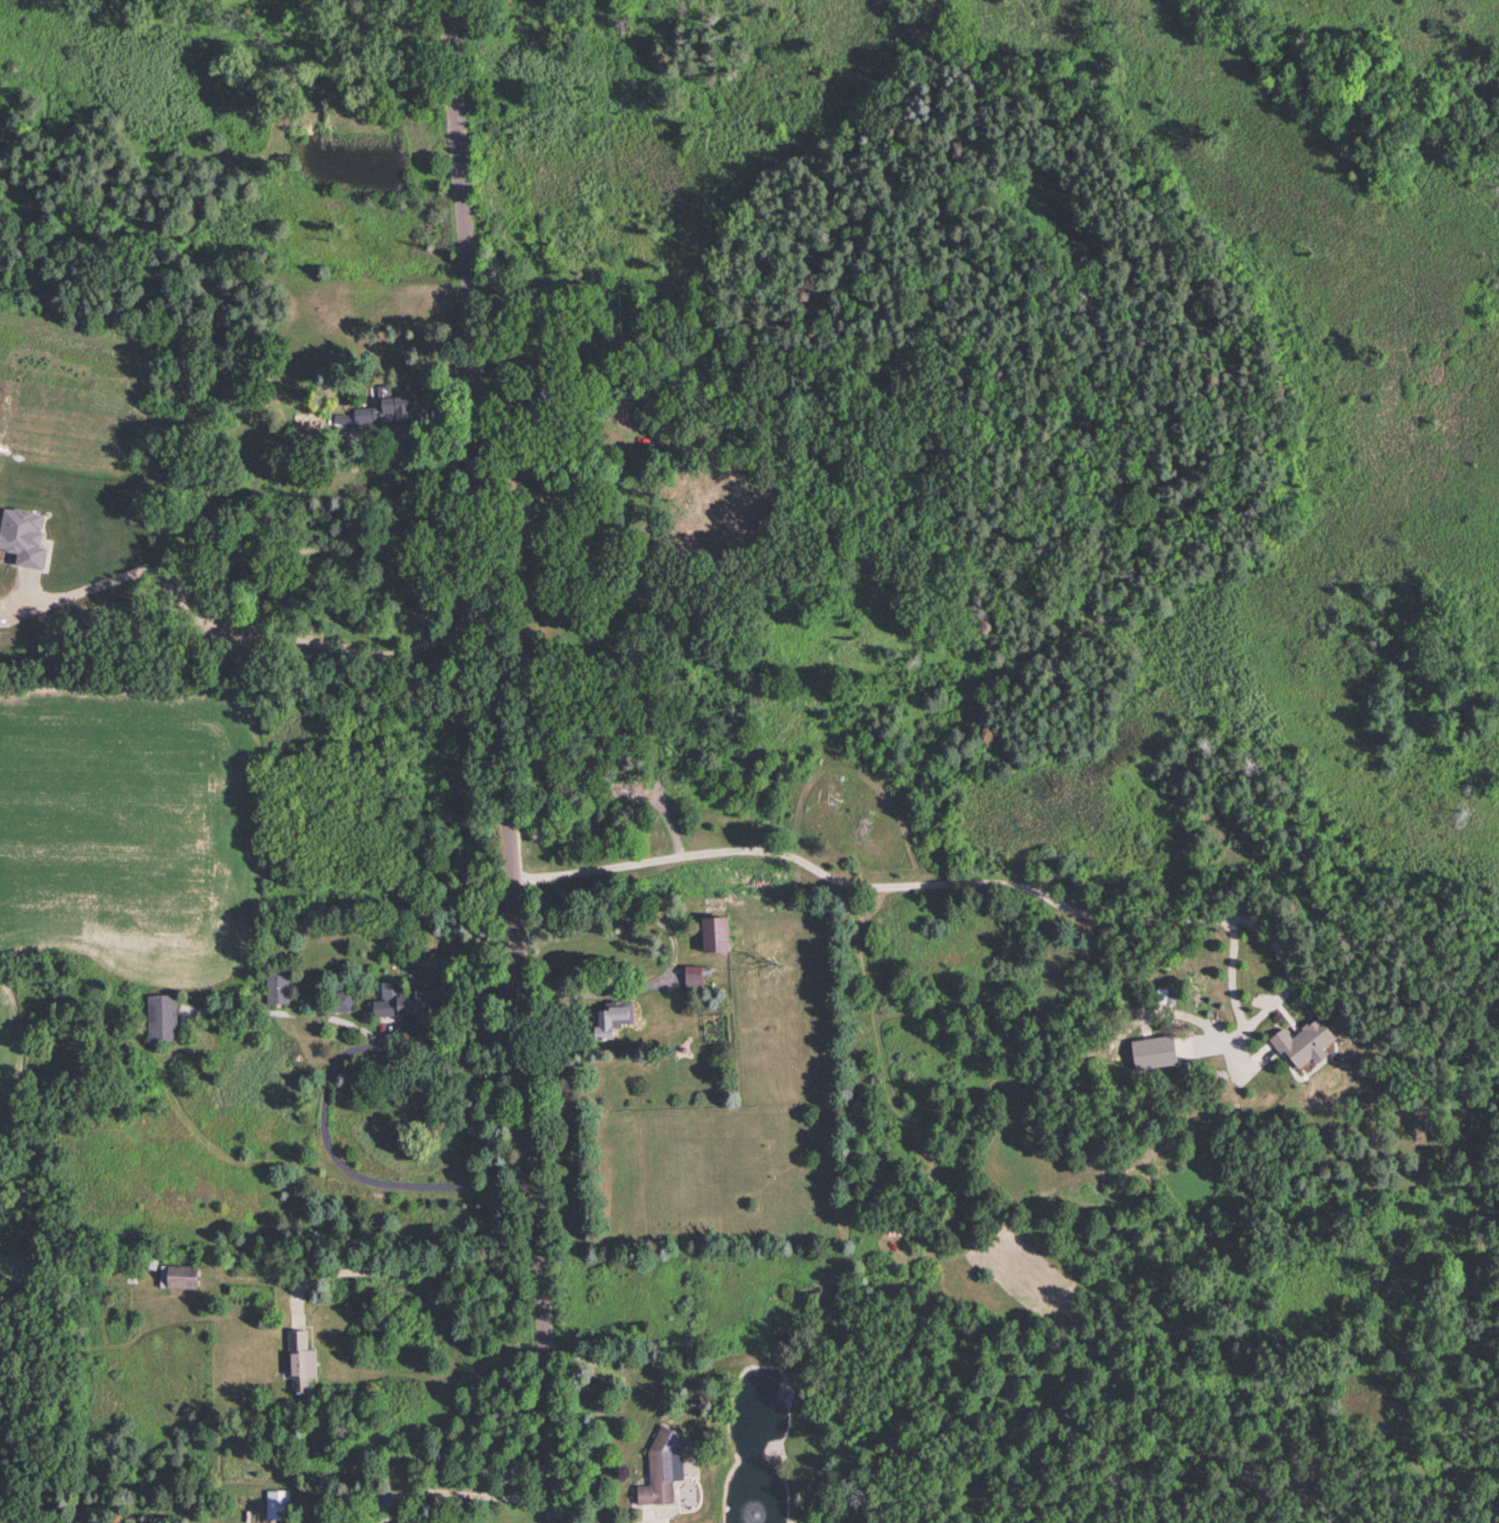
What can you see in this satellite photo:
building: (388, 410)
building: (340, 417)
road: (245, 635)
road: (504, 761)
crop: (129, 828)
road: (922, 881)
building: (715, 932)
road: (672, 949)
building: (694, 974)
building: (276, 986)
building: (342, 1000)
building: (405, 1002)
building: (161, 1016)
building: (613, 1016)
building: (1302, 1039)
building: (1153, 1051)
road: (356, 1175)
road: (401, 1268)
building: (177, 1275)
building: (301, 1359)
building: (660, 1467)
road: (464, 1491)
building: (277, 1503)

